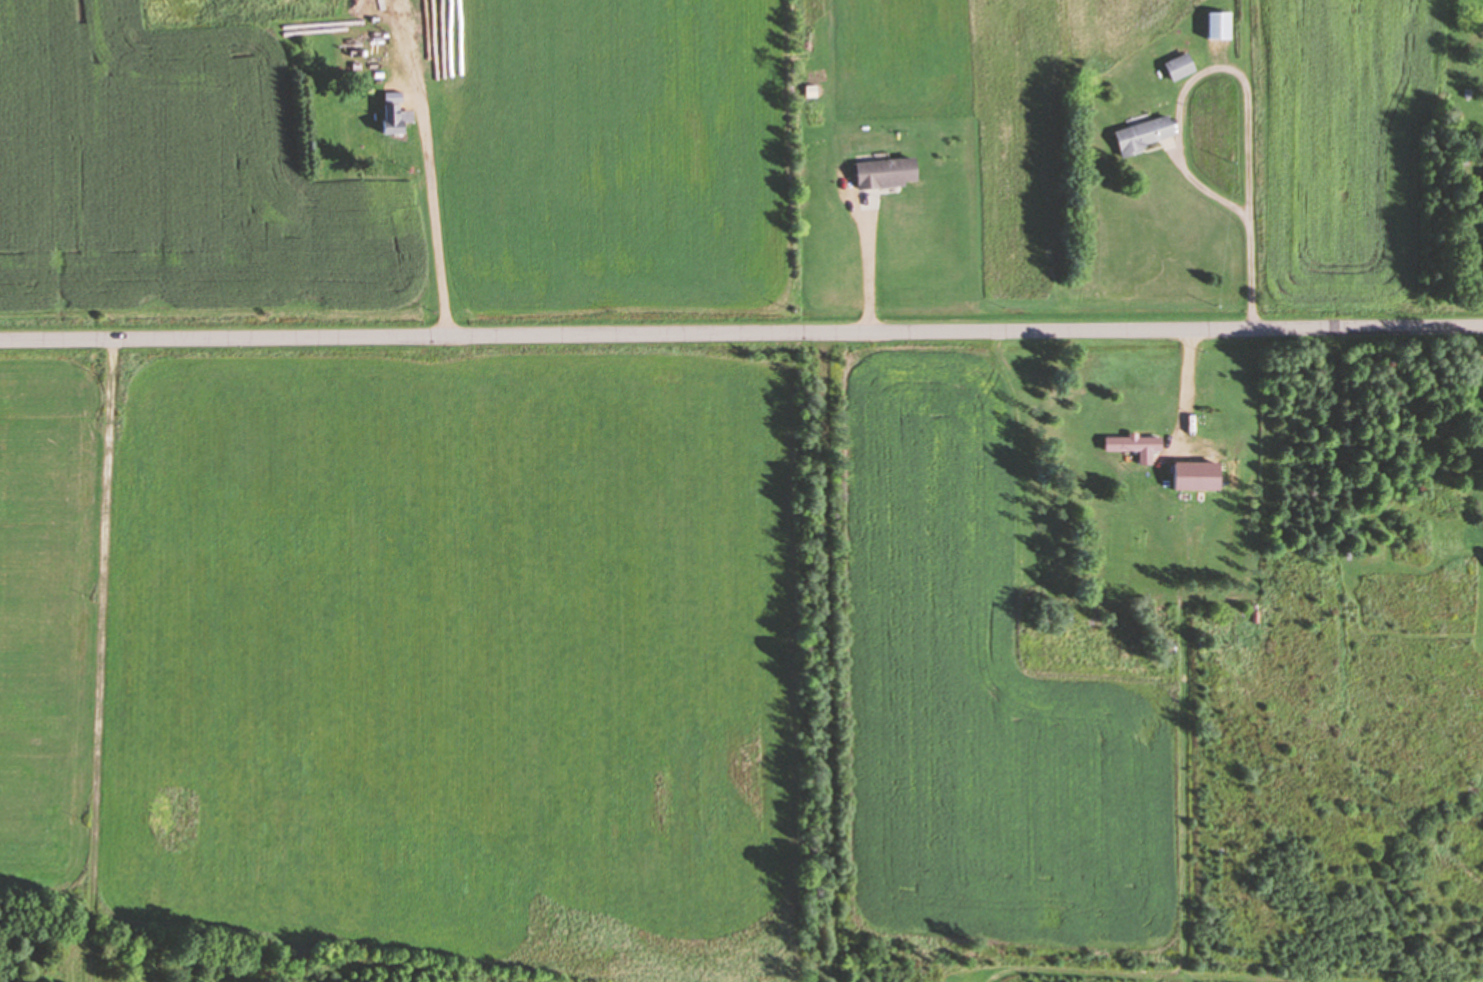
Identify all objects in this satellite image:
building: (1224, 26)
building: (1187, 66)
road: (1249, 85)
building: (398, 121)
building: (1151, 135)
building: (892, 173)
building: (1480, 187)
road: (741, 332)
road: (1183, 385)
building: (1143, 444)
building: (1203, 474)
road: (106, 660)

